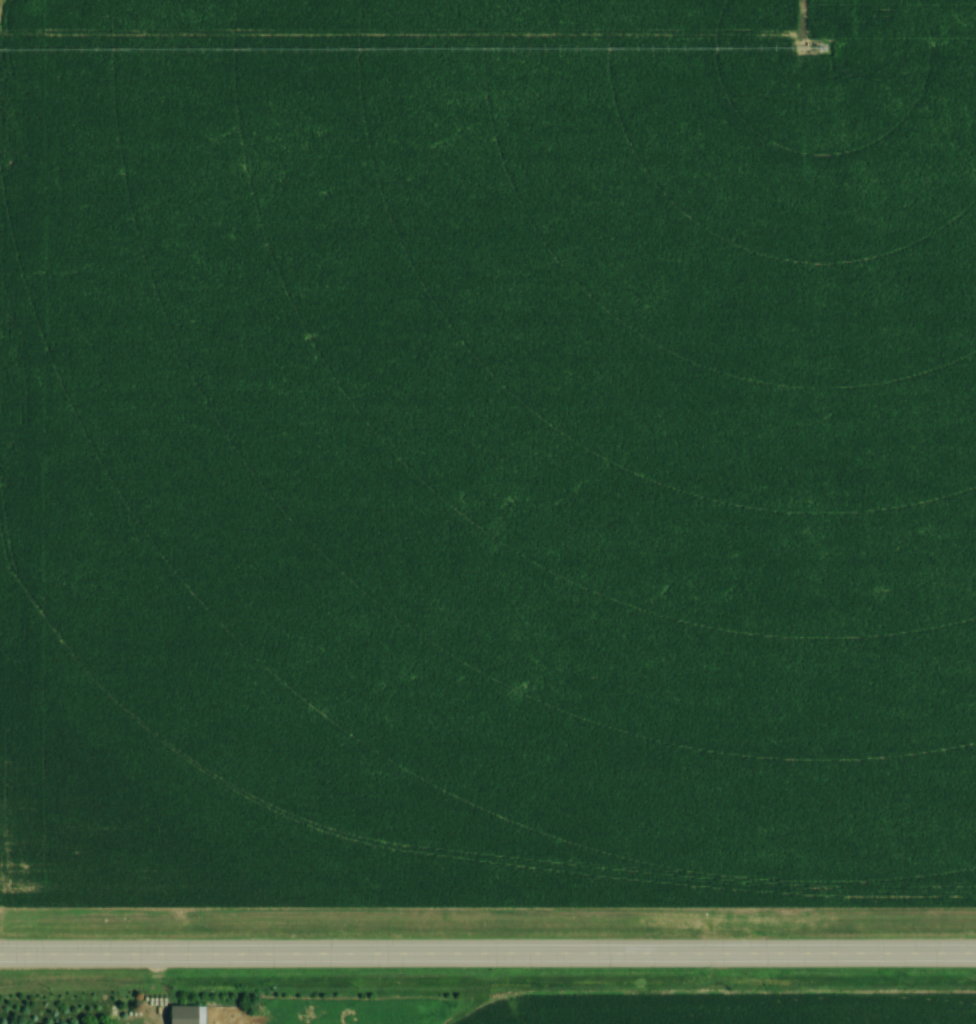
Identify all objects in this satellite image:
road: (488, 959)
building: (183, 1014)

